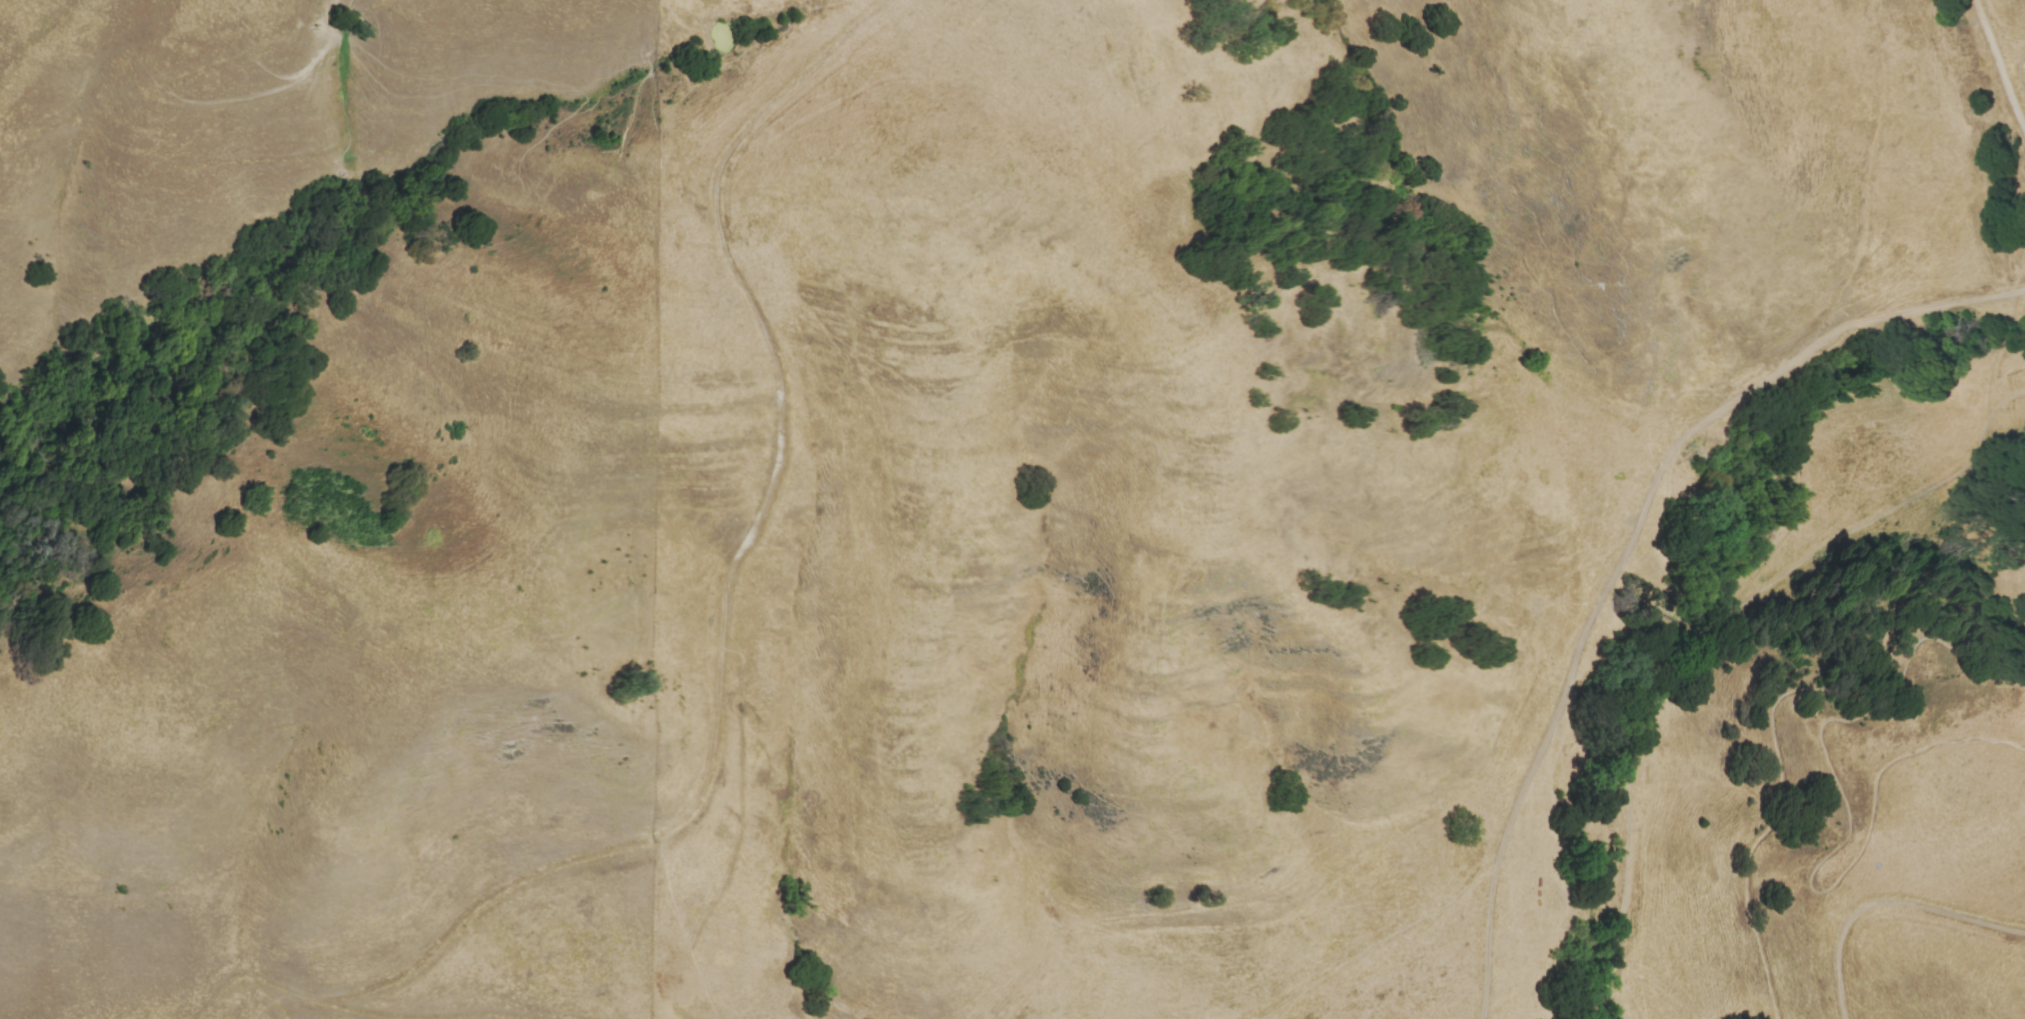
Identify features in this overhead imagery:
road: (2000, 65)
road: (2020, 72)
road: (1662, 463)
road: (770, 478)
road: (1710, 634)
road: (718, 742)
road: (1782, 776)
road: (1844, 840)
road: (1884, 904)
road: (1486, 932)
road: (1384, 940)
road: (426, 956)
road: (353, 1012)
road: (470, 1018)

